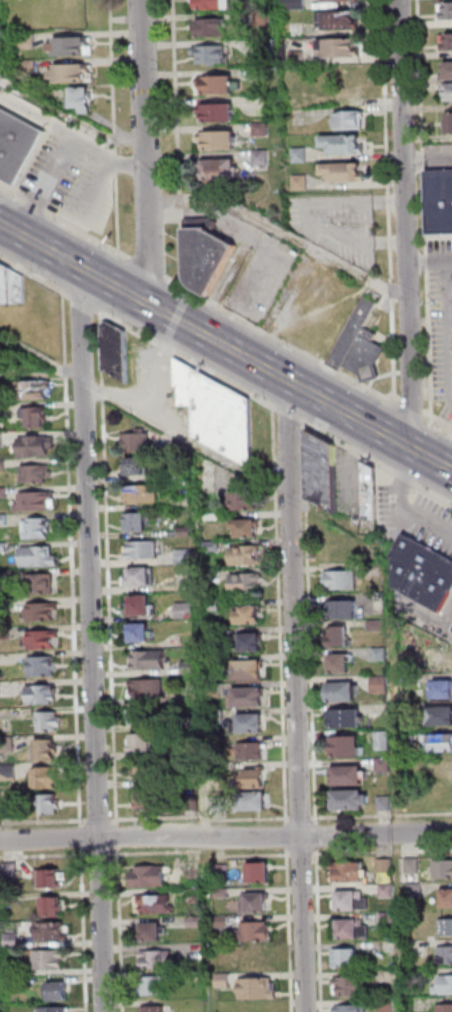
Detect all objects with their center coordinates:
building: (341, 1)
building: (211, 5)
building: (295, 5)
building: (447, 11)
building: (262, 19)
building: (342, 21)
building: (212, 28)
building: (28, 41)
building: (447, 43)
building: (72, 45)
building: (339, 49)
building: (266, 51)
building: (211, 56)
building: (298, 58)
building: (28, 67)
building: (72, 72)
building: (449, 73)
building: (260, 75)
building: (352, 83)
building: (218, 87)
building: (449, 94)
building: (80, 99)
building: (220, 115)
road: (69, 116)
building: (351, 122)
road: (115, 125)
building: (450, 125)
building: (261, 131)
building: (220, 142)
road: (179, 144)
building: (15, 145)
building: (344, 147)
road: (61, 151)
road: (143, 153)
building: (261, 157)
building: (301, 157)
road: (426, 158)
building: (219, 171)
building: (342, 173)
building: (301, 183)
road: (387, 201)
building: (440, 203)
road: (86, 209)
road: (425, 209)
road: (315, 215)
road: (403, 225)
road: (278, 231)
road: (260, 242)
building: (206, 255)
road: (427, 262)
parking lot: (250, 266)
road: (35, 277)
building: (6, 286)
building: (20, 289)
road: (450, 293)
road: (198, 296)
road: (451, 302)
road: (85, 304)
building: (360, 347)
road: (225, 348)
building: (114, 350)
road: (40, 357)
road: (184, 357)
road: (157, 367)
building: (35, 392)
road: (410, 409)
building: (2, 412)
road: (286, 412)
building: (220, 413)
building: (37, 418)
road: (438, 421)
building: (2, 441)
road: (189, 441)
building: (139, 444)
building: (38, 448)
road: (377, 461)
building: (3, 467)
building: (138, 468)
road: (451, 469)
building: (323, 474)
building: (37, 475)
building: (184, 477)
building: (3, 494)
building: (370, 494)
building: (145, 496)
building: (244, 502)
building: (37, 504)
road: (405, 505)
parking lot: (416, 517)
building: (3, 521)
building: (212, 521)
road: (340, 523)
building: (138, 524)
building: (38, 530)
building: (246, 530)
building: (186, 532)
building: (214, 547)
building: (4, 549)
building: (145, 551)
building: (184, 557)
building: (246, 557)
building: (40, 559)
road: (72, 562)
building: (423, 574)
building: (142, 579)
building: (5, 580)
building: (342, 581)
road: (390, 582)
building: (246, 584)
building: (43, 585)
building: (214, 606)
building: (142, 607)
building: (185, 611)
building: (42, 613)
building: (342, 613)
building: (249, 617)
road: (432, 620)
building: (378, 626)
road: (422, 631)
building: (5, 633)
building: (142, 635)
building: (339, 639)
building: (43, 640)
road: (93, 643)
building: (253, 645)
building: (381, 655)
building: (150, 662)
building: (341, 666)
building: (43, 667)
building: (190, 667)
building: (250, 672)
building: (408, 680)
road: (204, 681)
building: (381, 686)
building: (6, 689)
building: (148, 689)
building: (216, 691)
building: (441, 692)
building: (43, 694)
building: (190, 694)
building: (343, 694)
road: (297, 697)
building: (249, 700)
building: (217, 717)
building: (142, 718)
building: (440, 719)
building: (348, 721)
building: (51, 722)
building: (190, 722)
building: (250, 727)
building: (410, 737)
building: (383, 741)
building: (8, 745)
building: (142, 745)
building: (438, 745)
building: (350, 749)
building: (47, 750)
building: (254, 752)
building: (384, 766)
building: (442, 767)
building: (151, 772)
building: (9, 774)
road: (396, 775)
building: (350, 778)
building: (47, 779)
building: (254, 781)
building: (442, 794)
building: (152, 801)
building: (351, 803)
building: (253, 804)
building: (51, 805)
building: (191, 805)
building: (221, 805)
building: (385, 805)
building: (9, 811)
road: (94, 821)
road: (45, 823)
road: (276, 837)
road: (50, 839)
road: (82, 841)
road: (119, 843)
road: (288, 843)
road: (317, 843)
road: (202, 852)
road: (383, 853)
road: (100, 855)
road: (303, 855)
road: (44, 857)
building: (386, 867)
building: (413, 867)
building: (444, 870)
building: (11, 871)
building: (223, 873)
building: (196, 874)
building: (352, 874)
building: (260, 875)
building: (151, 878)
building: (53, 880)
building: (387, 891)
building: (417, 891)
building: (222, 894)
building: (196, 895)
building: (448, 900)
building: (353, 902)
building: (154, 905)
building: (255, 905)
building: (53, 909)
building: (389, 919)
building: (195, 922)
building: (223, 922)
building: (446, 928)
road: (121, 930)
road: (291, 930)
road: (320, 930)
road: (84, 932)
building: (354, 932)
building: (255, 933)
building: (54, 935)
building: (155, 935)
building: (13, 941)
building: (223, 942)
building: (445, 956)
building: (347, 959)
building: (50, 961)
building: (158, 962)
building: (418, 976)
building: (224, 982)
building: (155, 987)
building: (445, 987)
building: (352, 988)
building: (258, 991)
building: (59, 993)
building: (388, 1005)
road: (403, 1006)
building: (353, 1009)
building: (446, 1009)
building: (56, 1010)
building: (155, 1010)

